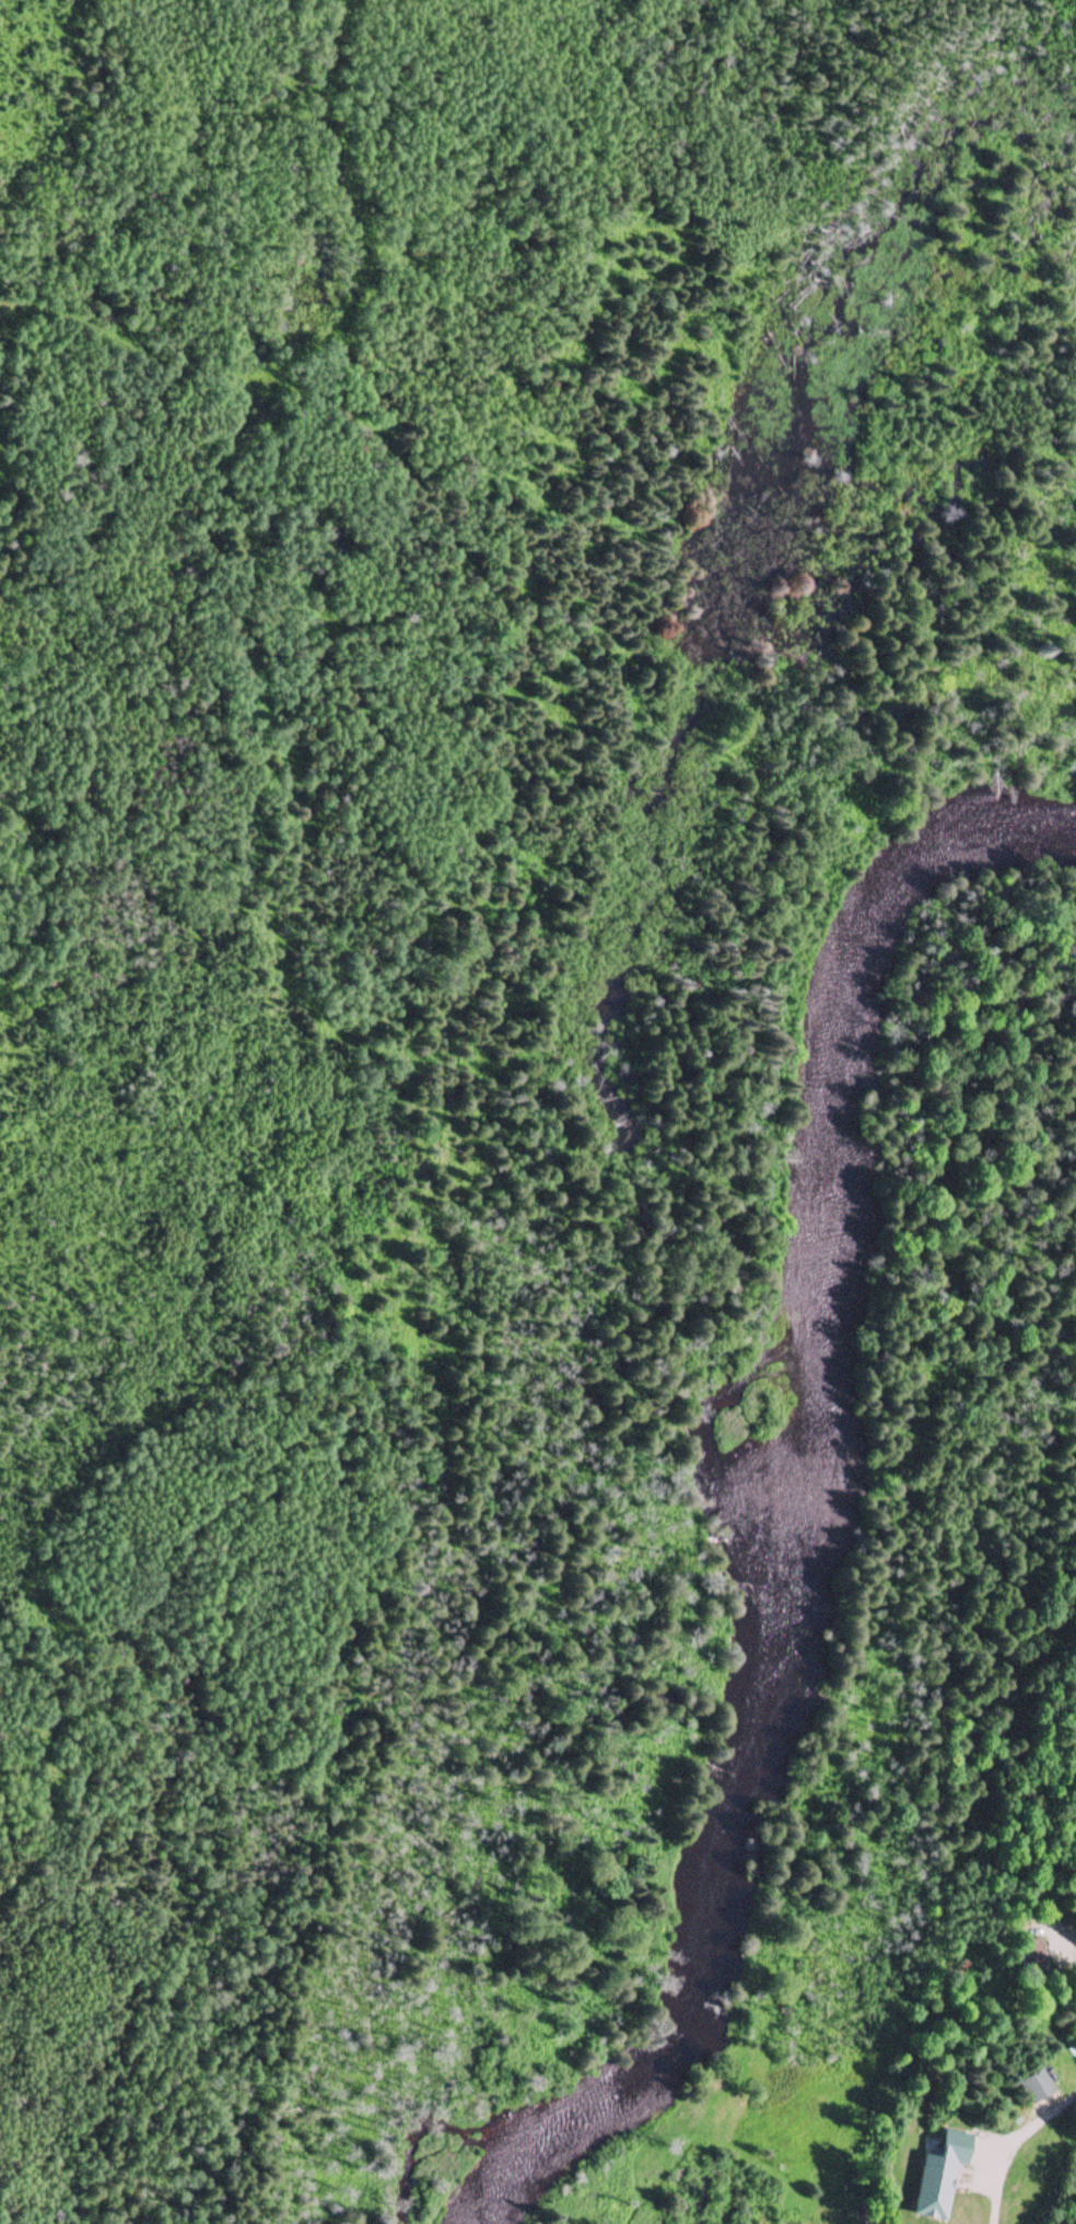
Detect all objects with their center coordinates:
river: (845, 1070)
river: (782, 1423)
river: (716, 1899)
building: (1039, 2087)
building: (940, 2157)

